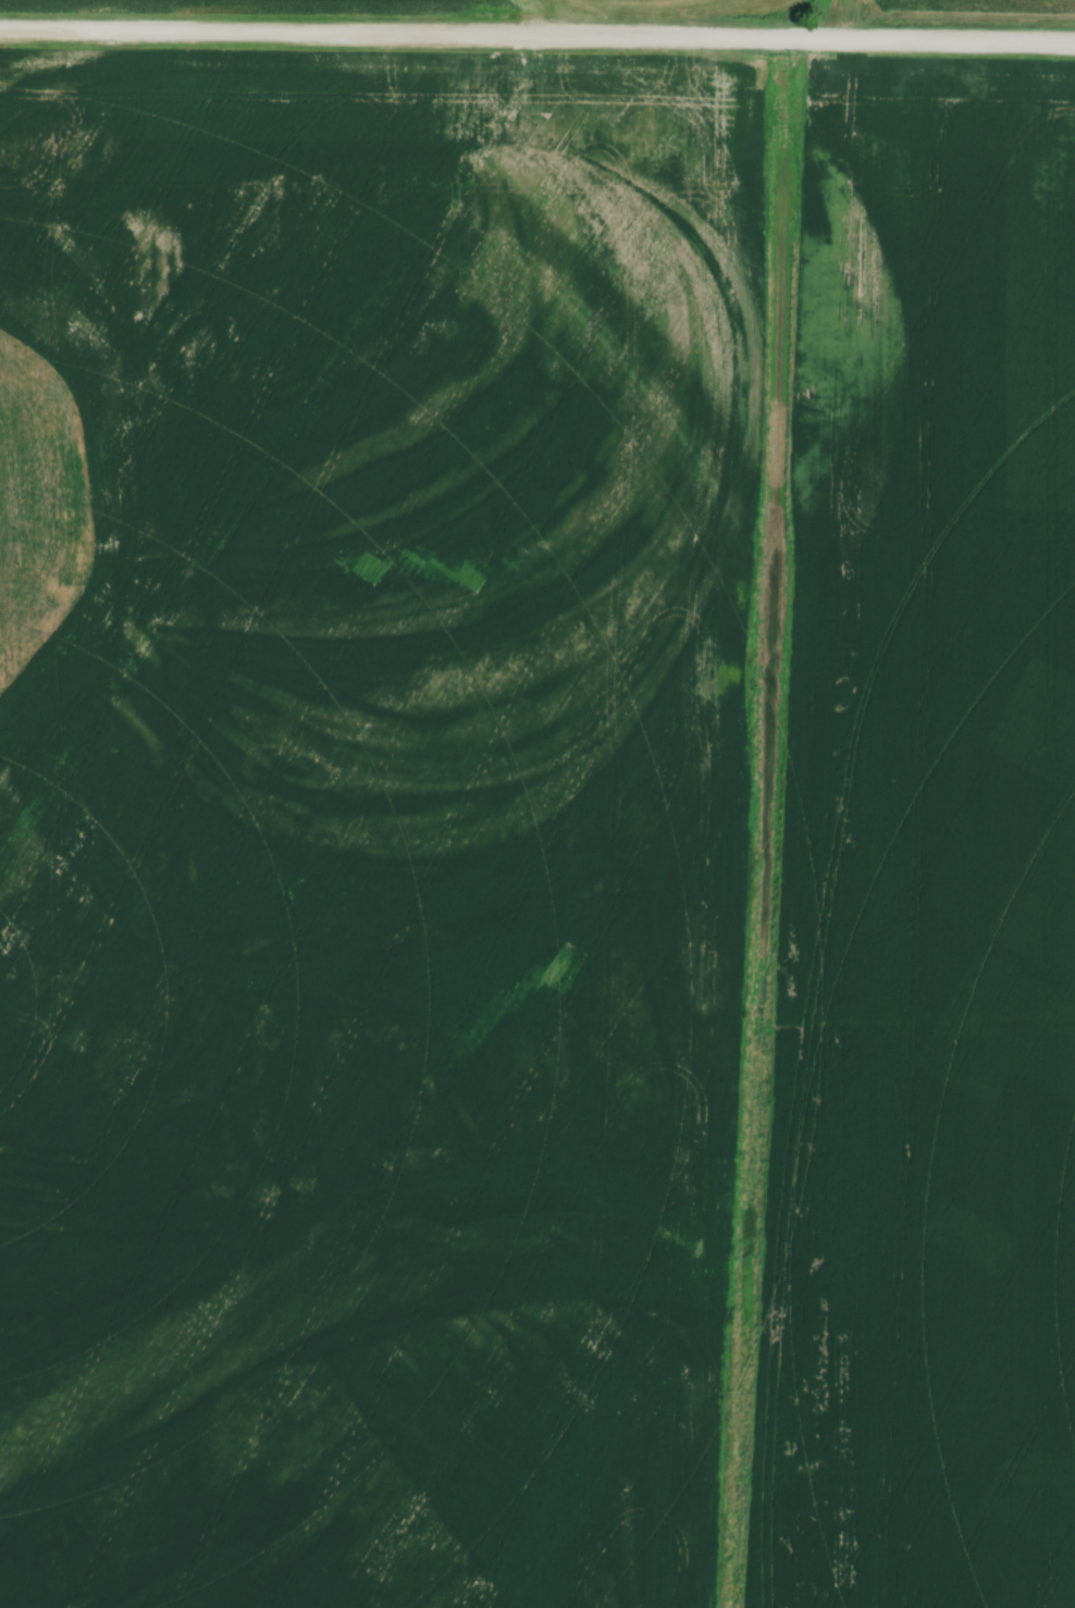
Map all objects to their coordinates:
road: (537, 41)

